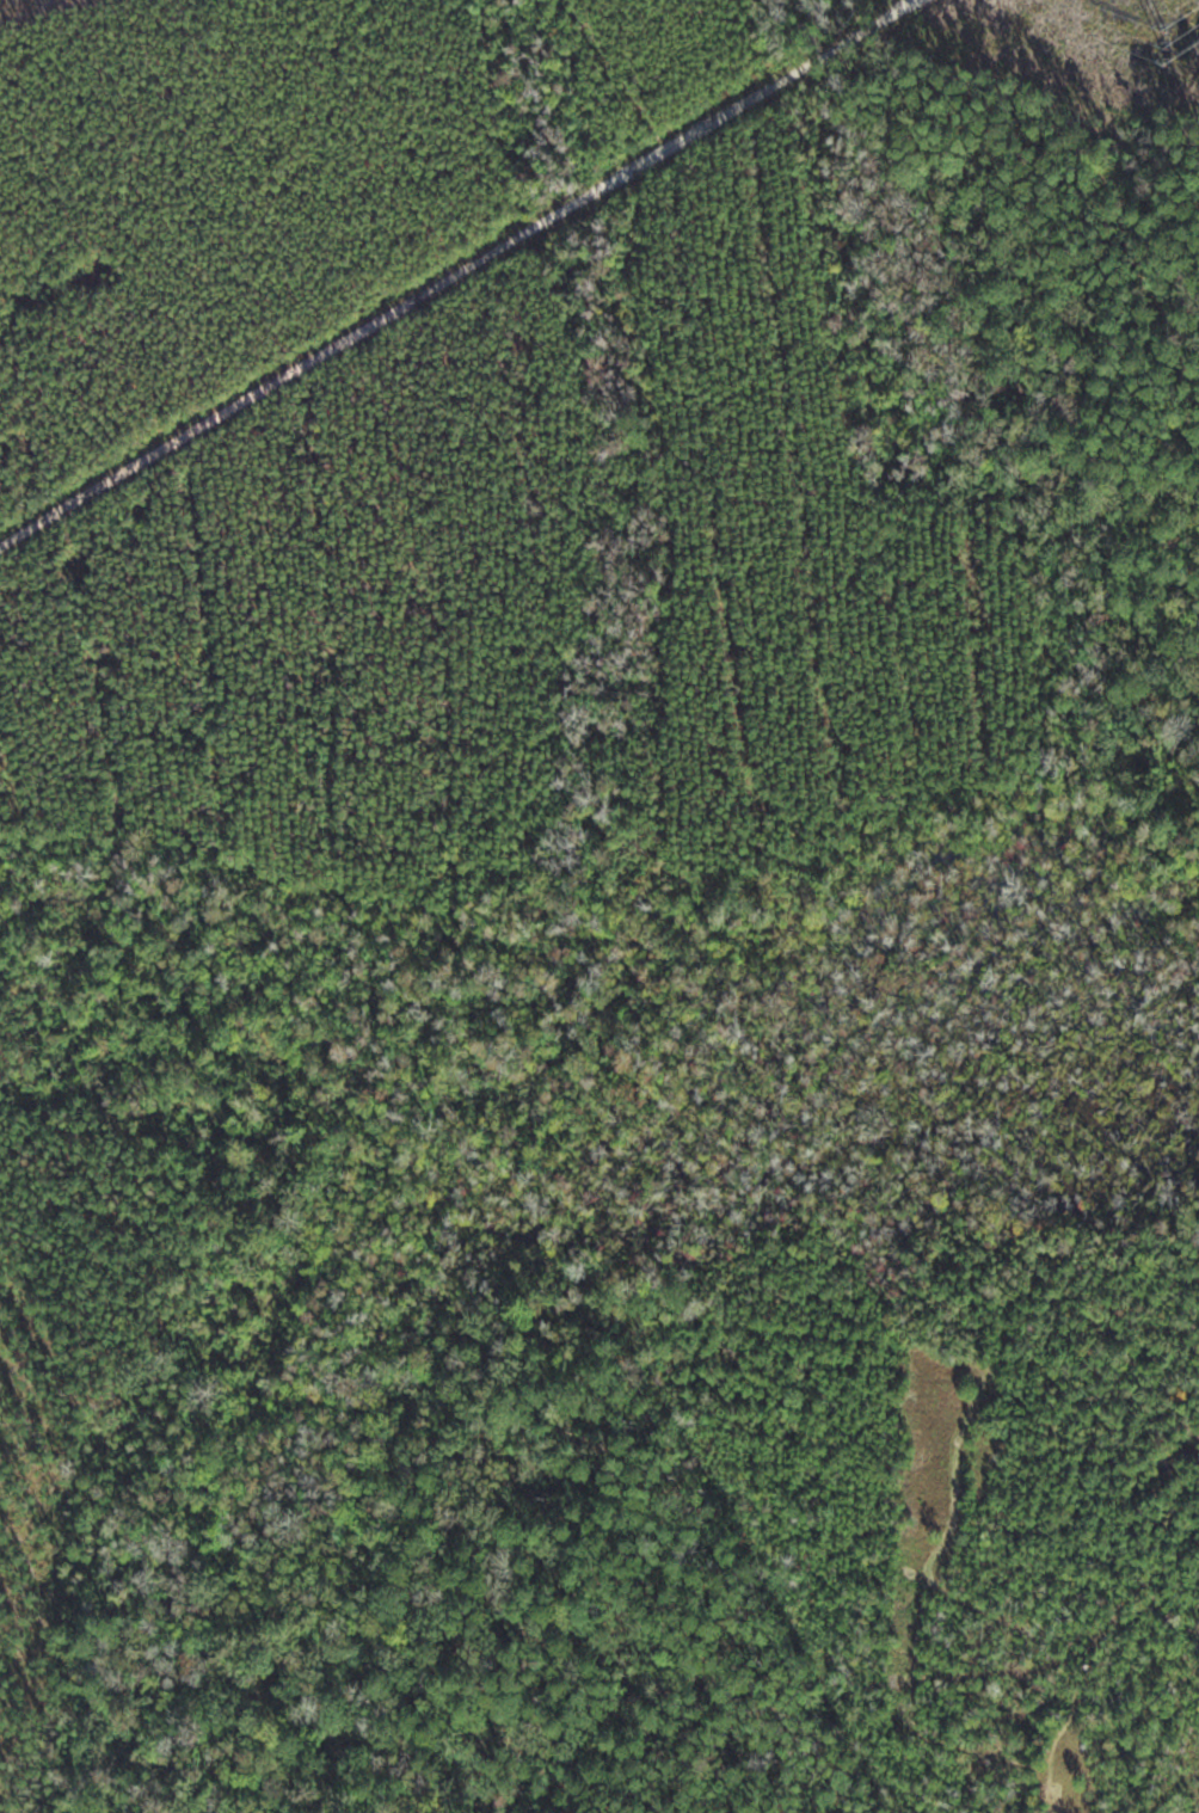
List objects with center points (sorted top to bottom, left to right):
road: (414, 256)

